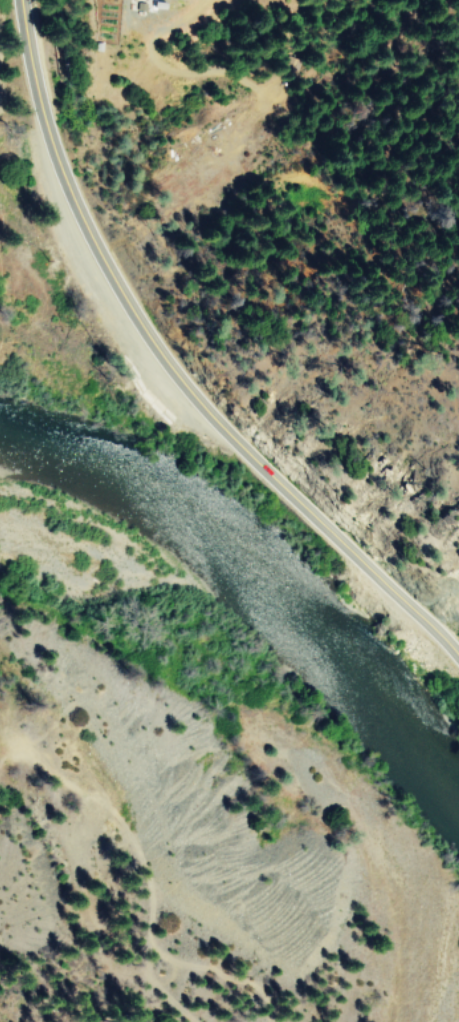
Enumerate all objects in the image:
building: (292, 67)
road: (172, 370)
river: (250, 613)

